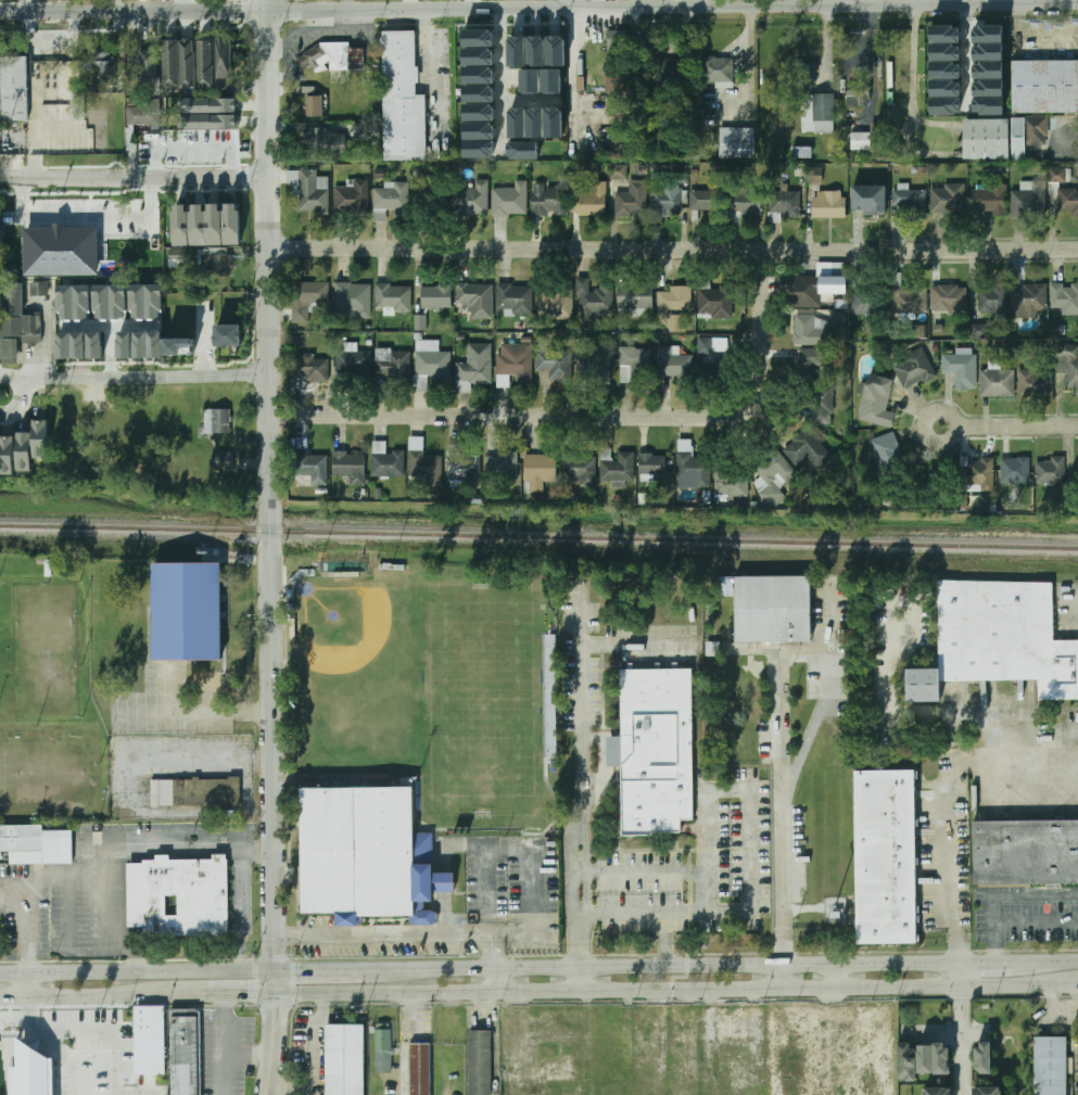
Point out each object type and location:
road: (855, 2)
road: (1018, 2)
road: (647, 3)
road: (570, 4)
road: (407, 5)
road: (469, 5)
road: (185, 7)
road: (538, 9)
road: (555, 14)
road: (519, 15)
road: (535, 15)
building: (944, 34)
building: (987, 34)
building: (477, 37)
building: (617, 40)
building: (810, 47)
road: (573, 49)
building: (516, 51)
building: (535, 51)
building: (555, 51)
building: (944, 52)
building: (987, 52)
building: (477, 55)
building: (331, 56)
road: (965, 56)
road: (873, 61)
road: (749, 62)
road: (911, 62)
building: (102, 64)
building: (178, 64)
building: (205, 64)
building: (224, 66)
building: (145, 68)
building: (716, 69)
building: (944, 69)
building: (987, 69)
building: (808, 72)
building: (657, 73)
building: (478, 74)
parking lot: (512, 78)
road: (500, 79)
building: (529, 81)
building: (550, 81)
building: (1044, 86)
building: (944, 88)
building: (987, 88)
building: (14, 89)
building: (478, 92)
road: (532, 97)
building: (710, 97)
building: (858, 97)
building: (402, 98)
building: (78, 104)
building: (944, 105)
building: (987, 105)
building: (314, 106)
building: (215, 110)
building: (478, 111)
road: (573, 112)
building: (819, 113)
building: (142, 116)
building: (516, 123)
building: (535, 123)
building: (553, 123)
building: (479, 129)
building: (1028, 135)
parking lot: (1063, 138)
building: (985, 139)
building: (321, 141)
building: (860, 141)
building: (736, 142)
building: (479, 149)
building: (523, 151)
building: (618, 171)
building: (1060, 176)
road: (134, 178)
building: (814, 179)
building: (309, 191)
building: (351, 196)
building: (509, 198)
building: (470, 199)
building: (389, 200)
building: (549, 200)
building: (589, 200)
building: (631, 200)
building: (865, 200)
building: (946, 200)
building: (988, 200)
building: (1029, 200)
building: (912, 201)
building: (665, 202)
building: (708, 202)
building: (1068, 202)
building: (746, 203)
building: (784, 204)
building: (827, 204)
road: (87, 211)
building: (202, 224)
building: (218, 224)
building: (236, 224)
building: (185, 225)
building: (65, 251)
road: (672, 252)
building: (214, 264)
building: (811, 288)
building: (40, 289)
building: (1063, 294)
building: (634, 296)
building: (392, 297)
building: (435, 297)
building: (513, 297)
building: (554, 297)
building: (307, 298)
building: (352, 298)
building: (912, 298)
building: (950, 298)
building: (475, 300)
building: (145, 301)
building: (592, 301)
building: (871, 301)
building: (993, 301)
building: (1028, 301)
building: (74, 302)
building: (110, 302)
building: (671, 302)
building: (714, 303)
building: (16, 322)
building: (420, 322)
building: (675, 323)
building: (806, 330)
building: (978, 331)
building: (69, 333)
building: (228, 335)
building: (149, 344)
building: (96, 345)
building: (125, 345)
building: (177, 345)
building: (712, 345)
building: (352, 362)
building: (672, 362)
building: (555, 364)
building: (392, 365)
building: (430, 365)
building: (633, 365)
building: (810, 365)
building: (1068, 366)
building: (473, 367)
building: (313, 368)
building: (512, 368)
building: (597, 368)
building: (913, 368)
building: (962, 369)
building: (714, 371)
road: (137, 377)
building: (1038, 380)
building: (997, 383)
road: (17, 393)
building: (876, 402)
building: (822, 405)
road: (591, 418)
building: (216, 421)
road: (1009, 421)
building: (40, 438)
building: (807, 449)
building: (25, 451)
building: (8, 455)
building: (887, 457)
building: (422, 462)
building: (221, 463)
building: (386, 464)
building: (462, 464)
building: (578, 466)
building: (692, 466)
building: (350, 467)
building: (500, 467)
building: (618, 468)
building: (652, 468)
building: (538, 471)
building: (1015, 471)
building: (1051, 471)
building: (977, 472)
building: (312, 473)
building: (770, 476)
building: (733, 481)
railway: (538, 537)
road: (268, 547)
building: (774, 609)
building: (188, 611)
park: (348, 640)
building: (998, 640)
road: (635, 642)
road: (828, 644)
park: (39, 654)
park: (480, 701)
road: (212, 710)
road: (948, 712)
road: (778, 726)
road: (803, 748)
building: (656, 750)
building: (613, 751)
road: (580, 779)
road: (749, 788)
building: (194, 791)
building: (35, 843)
road: (187, 849)
building: (359, 851)
road: (508, 851)
building: (1025, 853)
road: (130, 854)
building: (890, 856)
road: (955, 861)
road: (636, 874)
road: (779, 882)
road: (22, 887)
parking lot: (88, 888)
road: (131, 894)
road: (1002, 894)
building: (179, 895)
road: (11, 896)
road: (237, 911)
road: (619, 914)
road: (103, 915)
road: (664, 920)
road: (405, 932)
traffic signals: (274, 950)
road: (132, 952)
road: (1058, 962)
road: (1000, 963)
road: (672, 966)
road: (329, 971)
traffic signals: (299, 972)
road: (137, 973)
road: (779, 976)
road: (832, 976)
road: (576, 978)
road: (678, 978)
road: (499, 980)
road: (27, 985)
road: (1068, 985)
road: (944, 986)
road: (551, 989)
road: (214, 995)
traffic signals: (245, 995)
road: (77, 996)
road: (1062, 1006)
traffic signals: (274, 1010)
road: (29, 1011)
road: (743, 1011)
street lamp: (40, 1022)
building: (513, 1022)
road: (15, 1026)
road: (100, 1027)
building: (736, 1027)
road: (961, 1029)
road: (944, 1032)
building: (643, 1040)
building: (148, 1041)
road: (830, 1041)
road: (405, 1042)
road: (707, 1042)
road: (313, 1043)
road: (226, 1044)
building: (791, 1046)
building: (877, 1047)
building: (382, 1049)
parking lot: (84, 1051)
building: (190, 1051)
building: (682, 1051)
road: (61, 1053)
street lamp: (94, 1055)
road: (248, 1057)
building: (987, 1057)
building: (348, 1058)
building: (941, 1058)
building: (483, 1059)
building: (925, 1059)
building: (906, 1062)
building: (1050, 1066)
building: (21, 1068)
building: (424, 1068)
building: (554, 1071)
building: (36, 1072)
building: (743, 1073)
building: (51, 1074)
building: (988, 1091)
building: (937, 1092)
building: (561, 1094)

